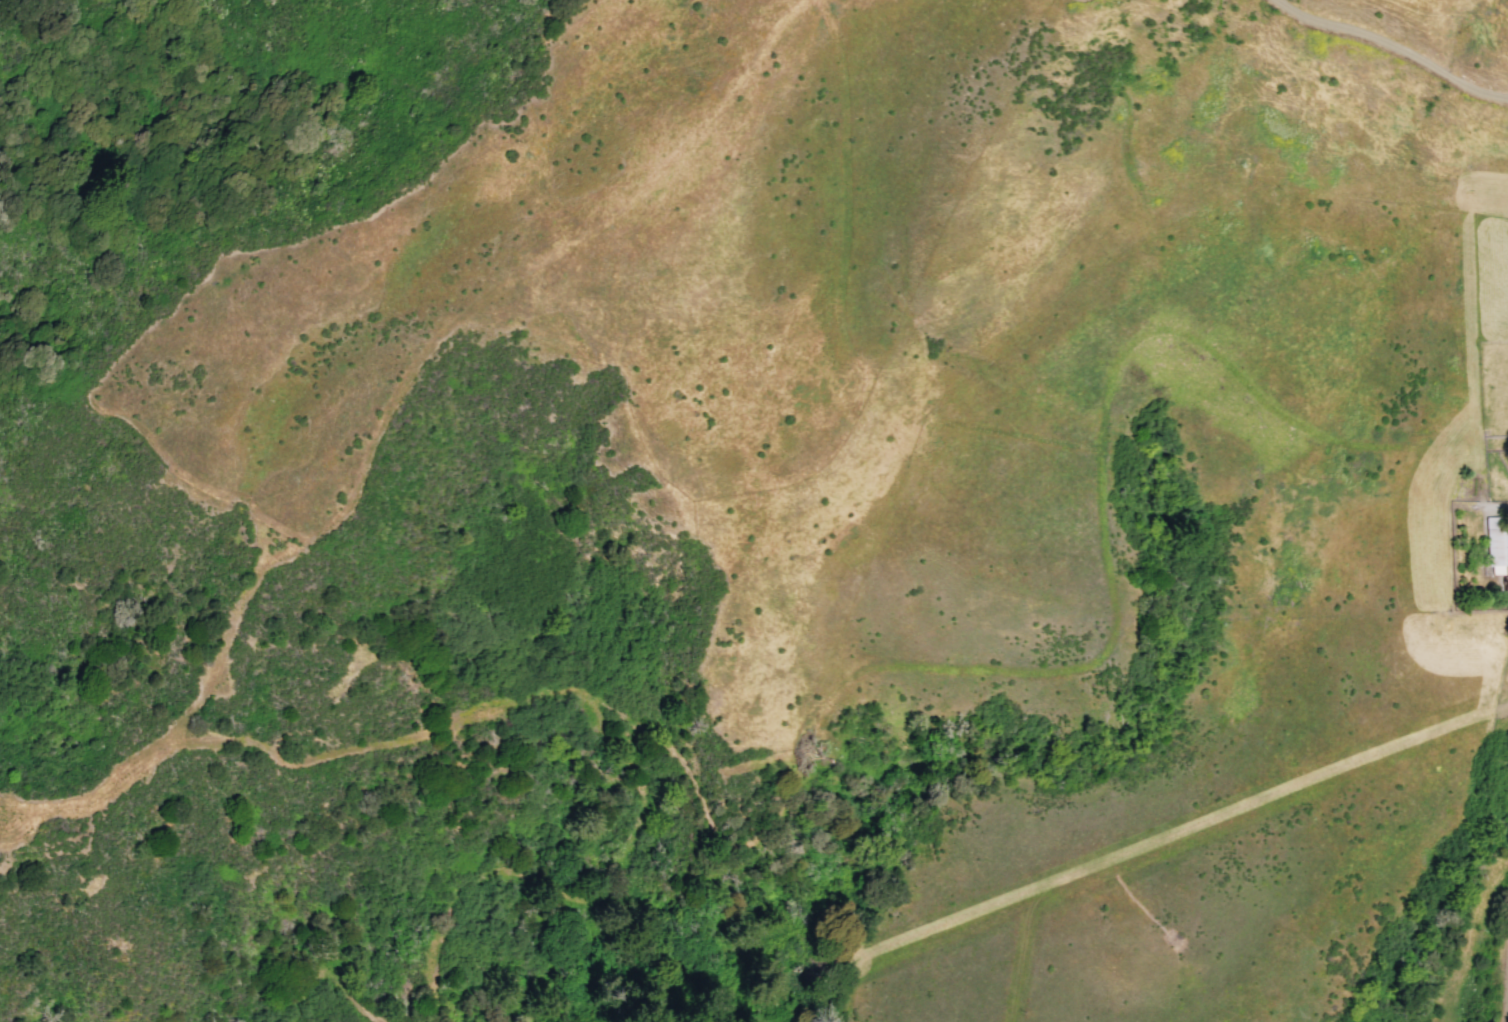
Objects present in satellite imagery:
road: (1340, 26)
road: (1453, 79)
building: (1495, 545)

